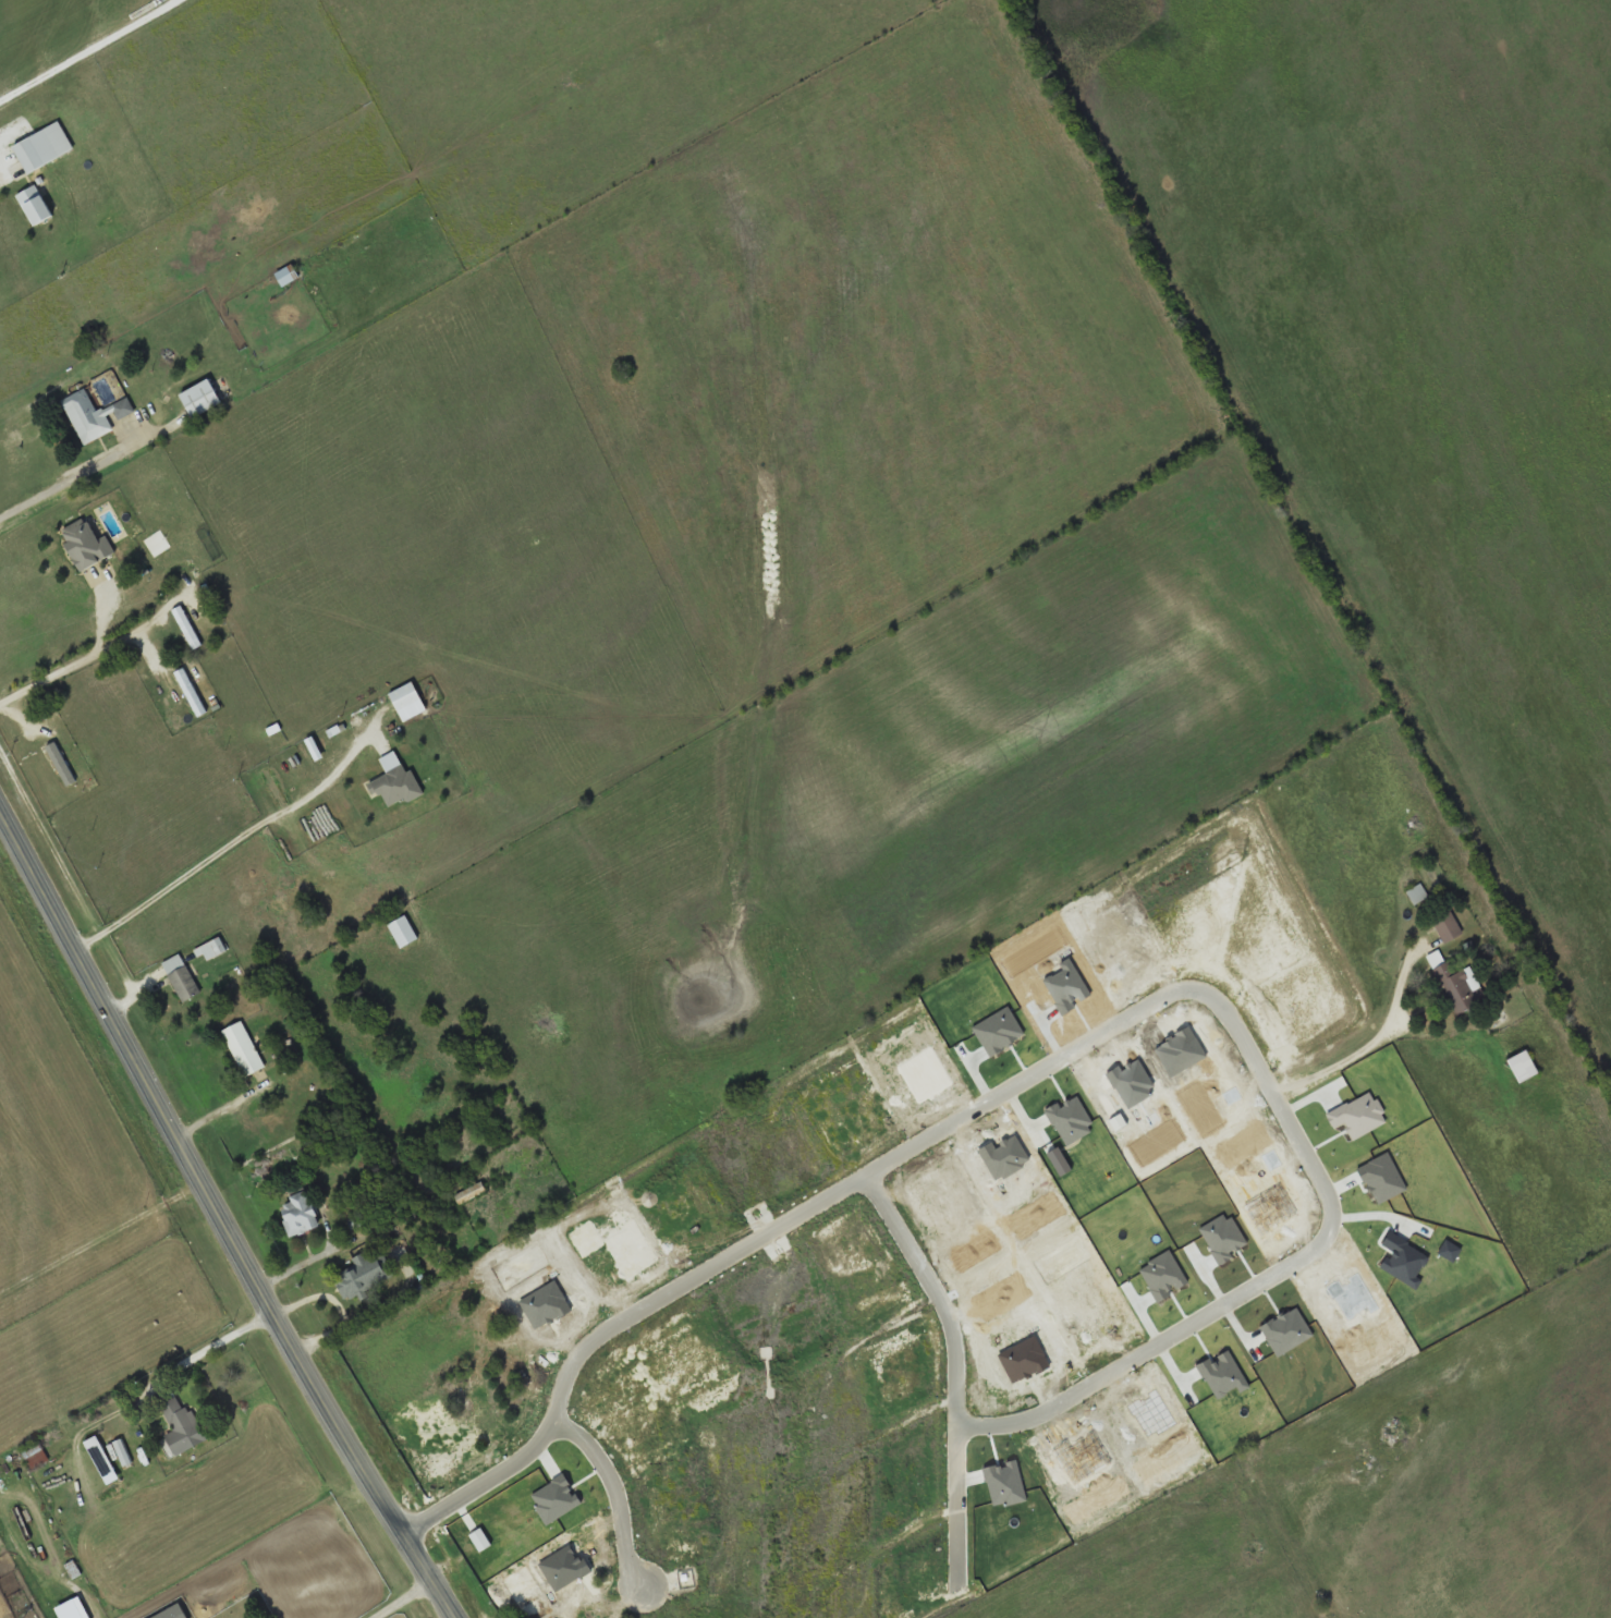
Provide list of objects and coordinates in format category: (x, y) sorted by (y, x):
building: (45, 148)
building: (36, 207)
building: (289, 277)
building: (203, 400)
building: (95, 417)
road: (69, 480)
building: (188, 629)
road: (82, 660)
building: (61, 764)
building: (273, 787)
building: (1418, 893)
building: (1449, 925)
building: (404, 932)
building: (1437, 958)
building: (182, 977)
building: (1459, 986)
road: (1197, 989)
building: (1500, 1020)
building: (1211, 1030)
building: (245, 1048)
road: (1362, 1051)
building: (1524, 1066)
building: (1302, 1182)
building: (301, 1215)
road: (222, 1220)
building: (547, 1239)
building: (365, 1274)
building: (512, 1346)
building: (478, 1407)
building: (183, 1426)
building: (122, 1452)
building: (35, 1453)
road: (390, 1576)
building: (559, 1611)

